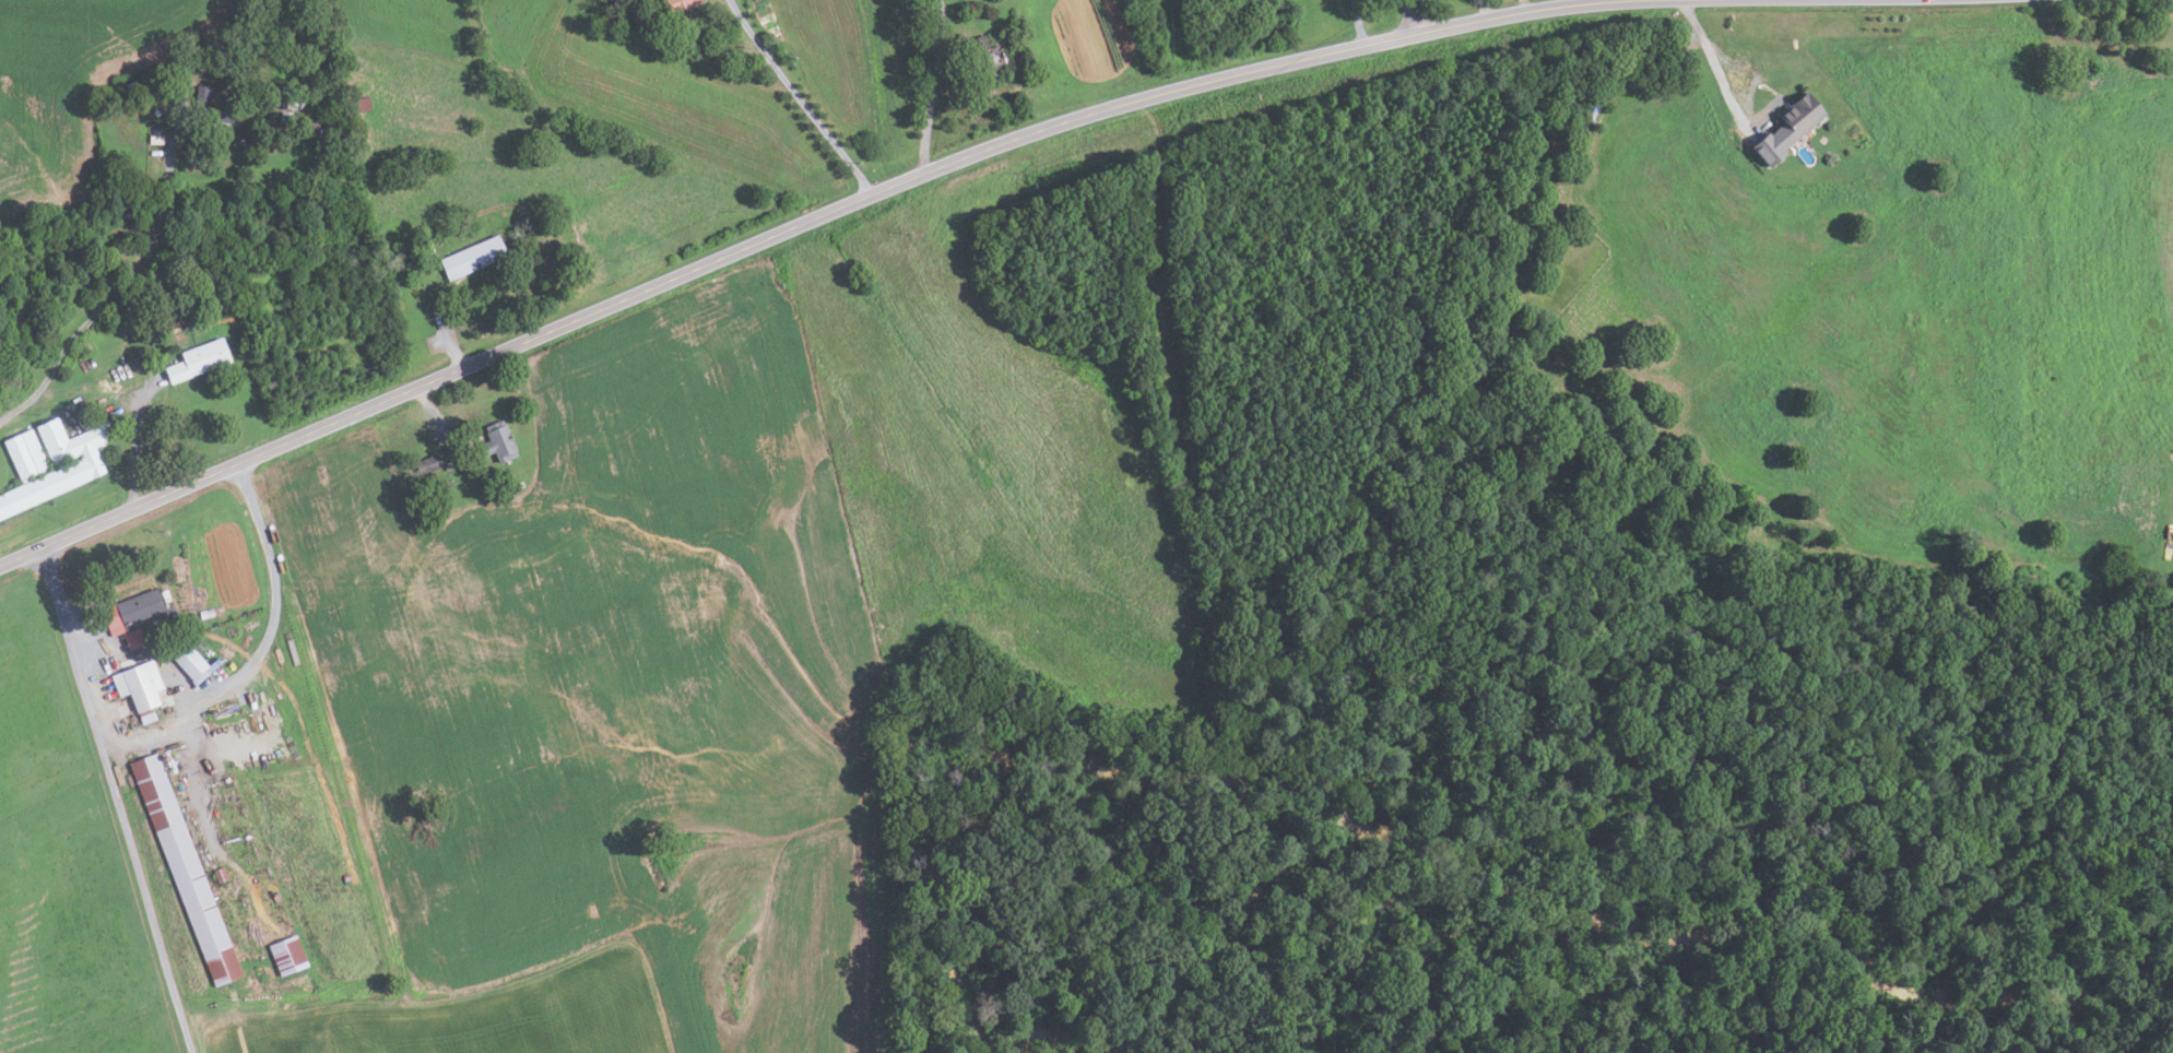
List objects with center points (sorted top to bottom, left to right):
road: (1523, 4)
building: (676, 5)
road: (1484, 8)
road: (1409, 16)
road: (1356, 22)
road: (1717, 54)
building: (985, 58)
road: (930, 86)
road: (796, 97)
building: (285, 98)
building: (175, 102)
building: (362, 104)
building: (206, 107)
building: (284, 118)
building: (307, 126)
building: (1787, 128)
building: (154, 139)
road: (776, 230)
building: (472, 257)
road: (118, 294)
road: (448, 336)
building: (197, 358)
road: (429, 412)
building: (94, 419)
building: (81, 422)
building: (497, 440)
road: (133, 445)
building: (50, 462)
building: (428, 465)
building: (163, 595)
building: (173, 611)
building: (129, 612)
building: (132, 639)
building: (197, 642)
building: (191, 664)
building: (138, 688)
road: (186, 712)
road: (198, 781)
building: (184, 871)
road: (144, 897)
building: (287, 956)

